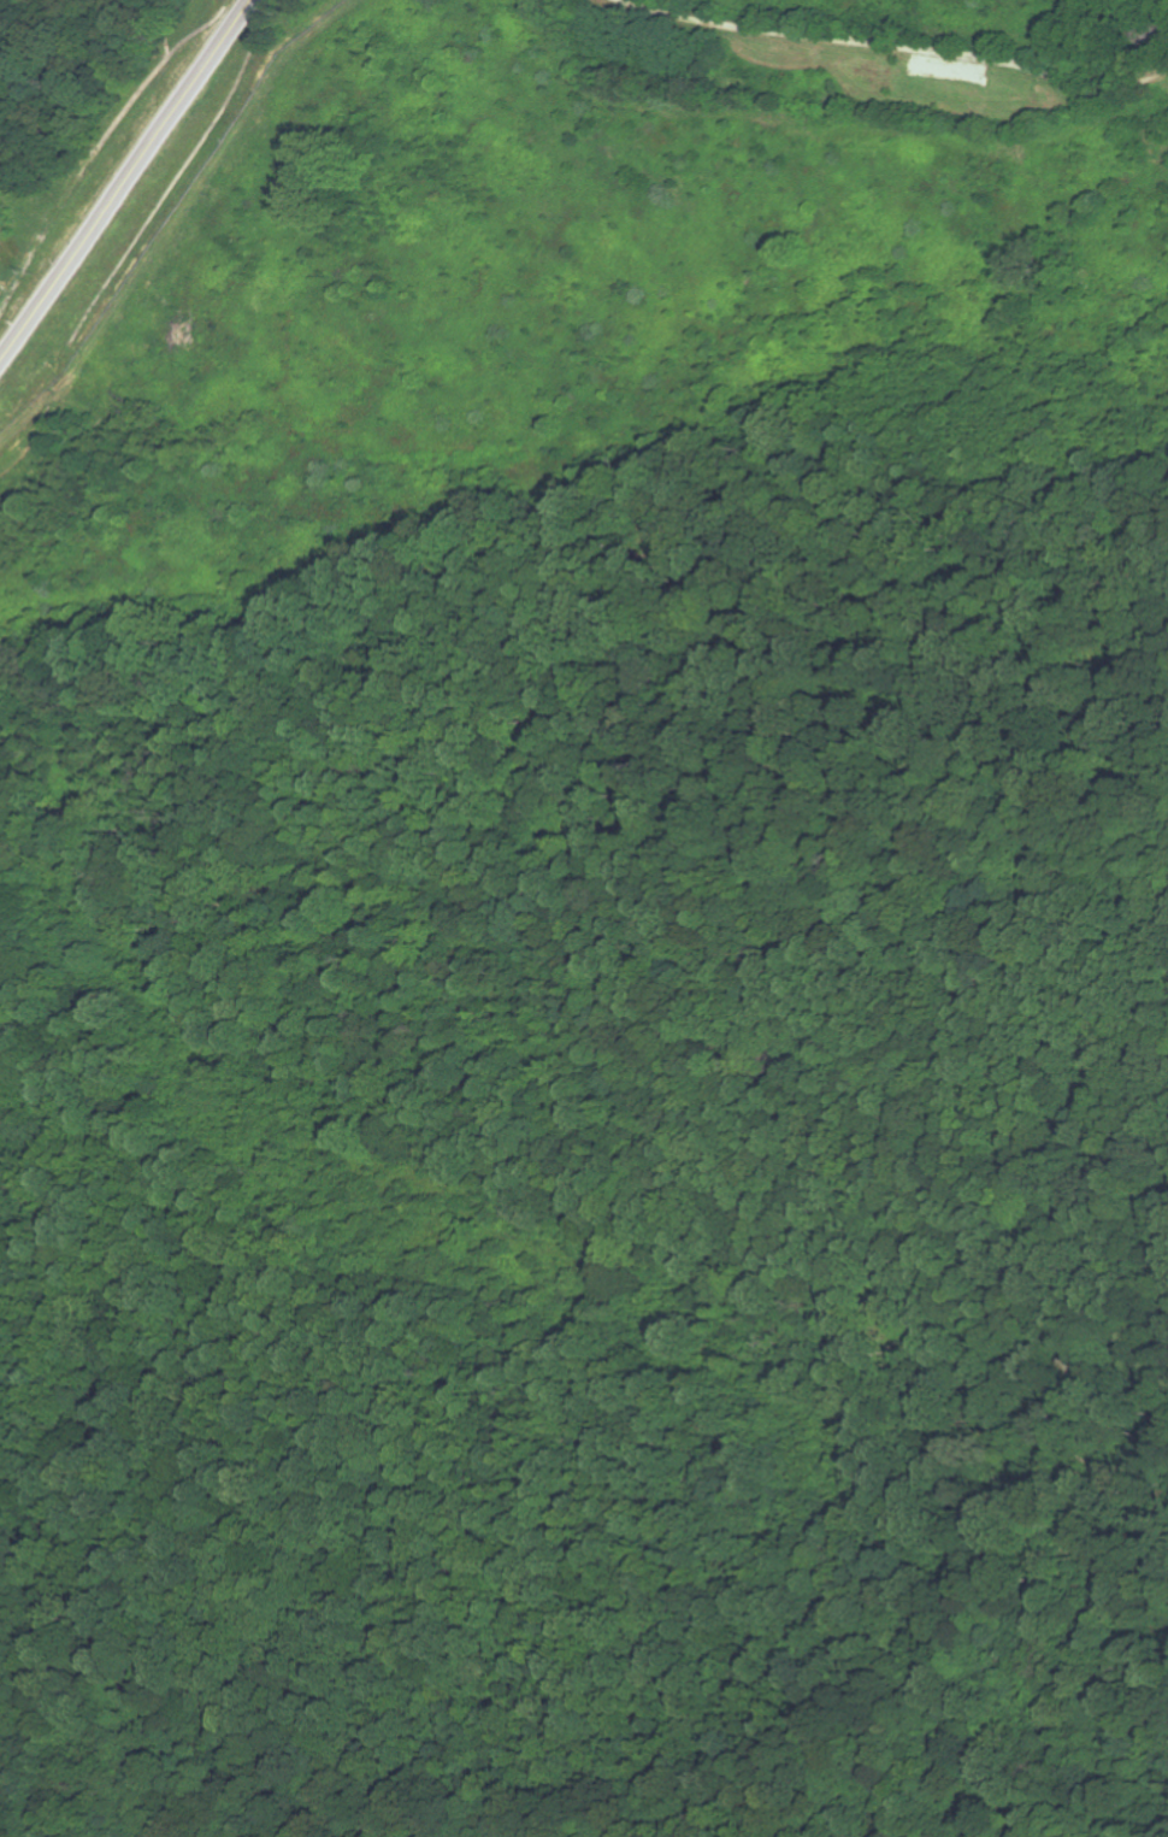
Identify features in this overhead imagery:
road: (795, 46)
road: (897, 51)
road: (1078, 96)
road: (128, 183)
road: (165, 210)
road: (568, 923)

